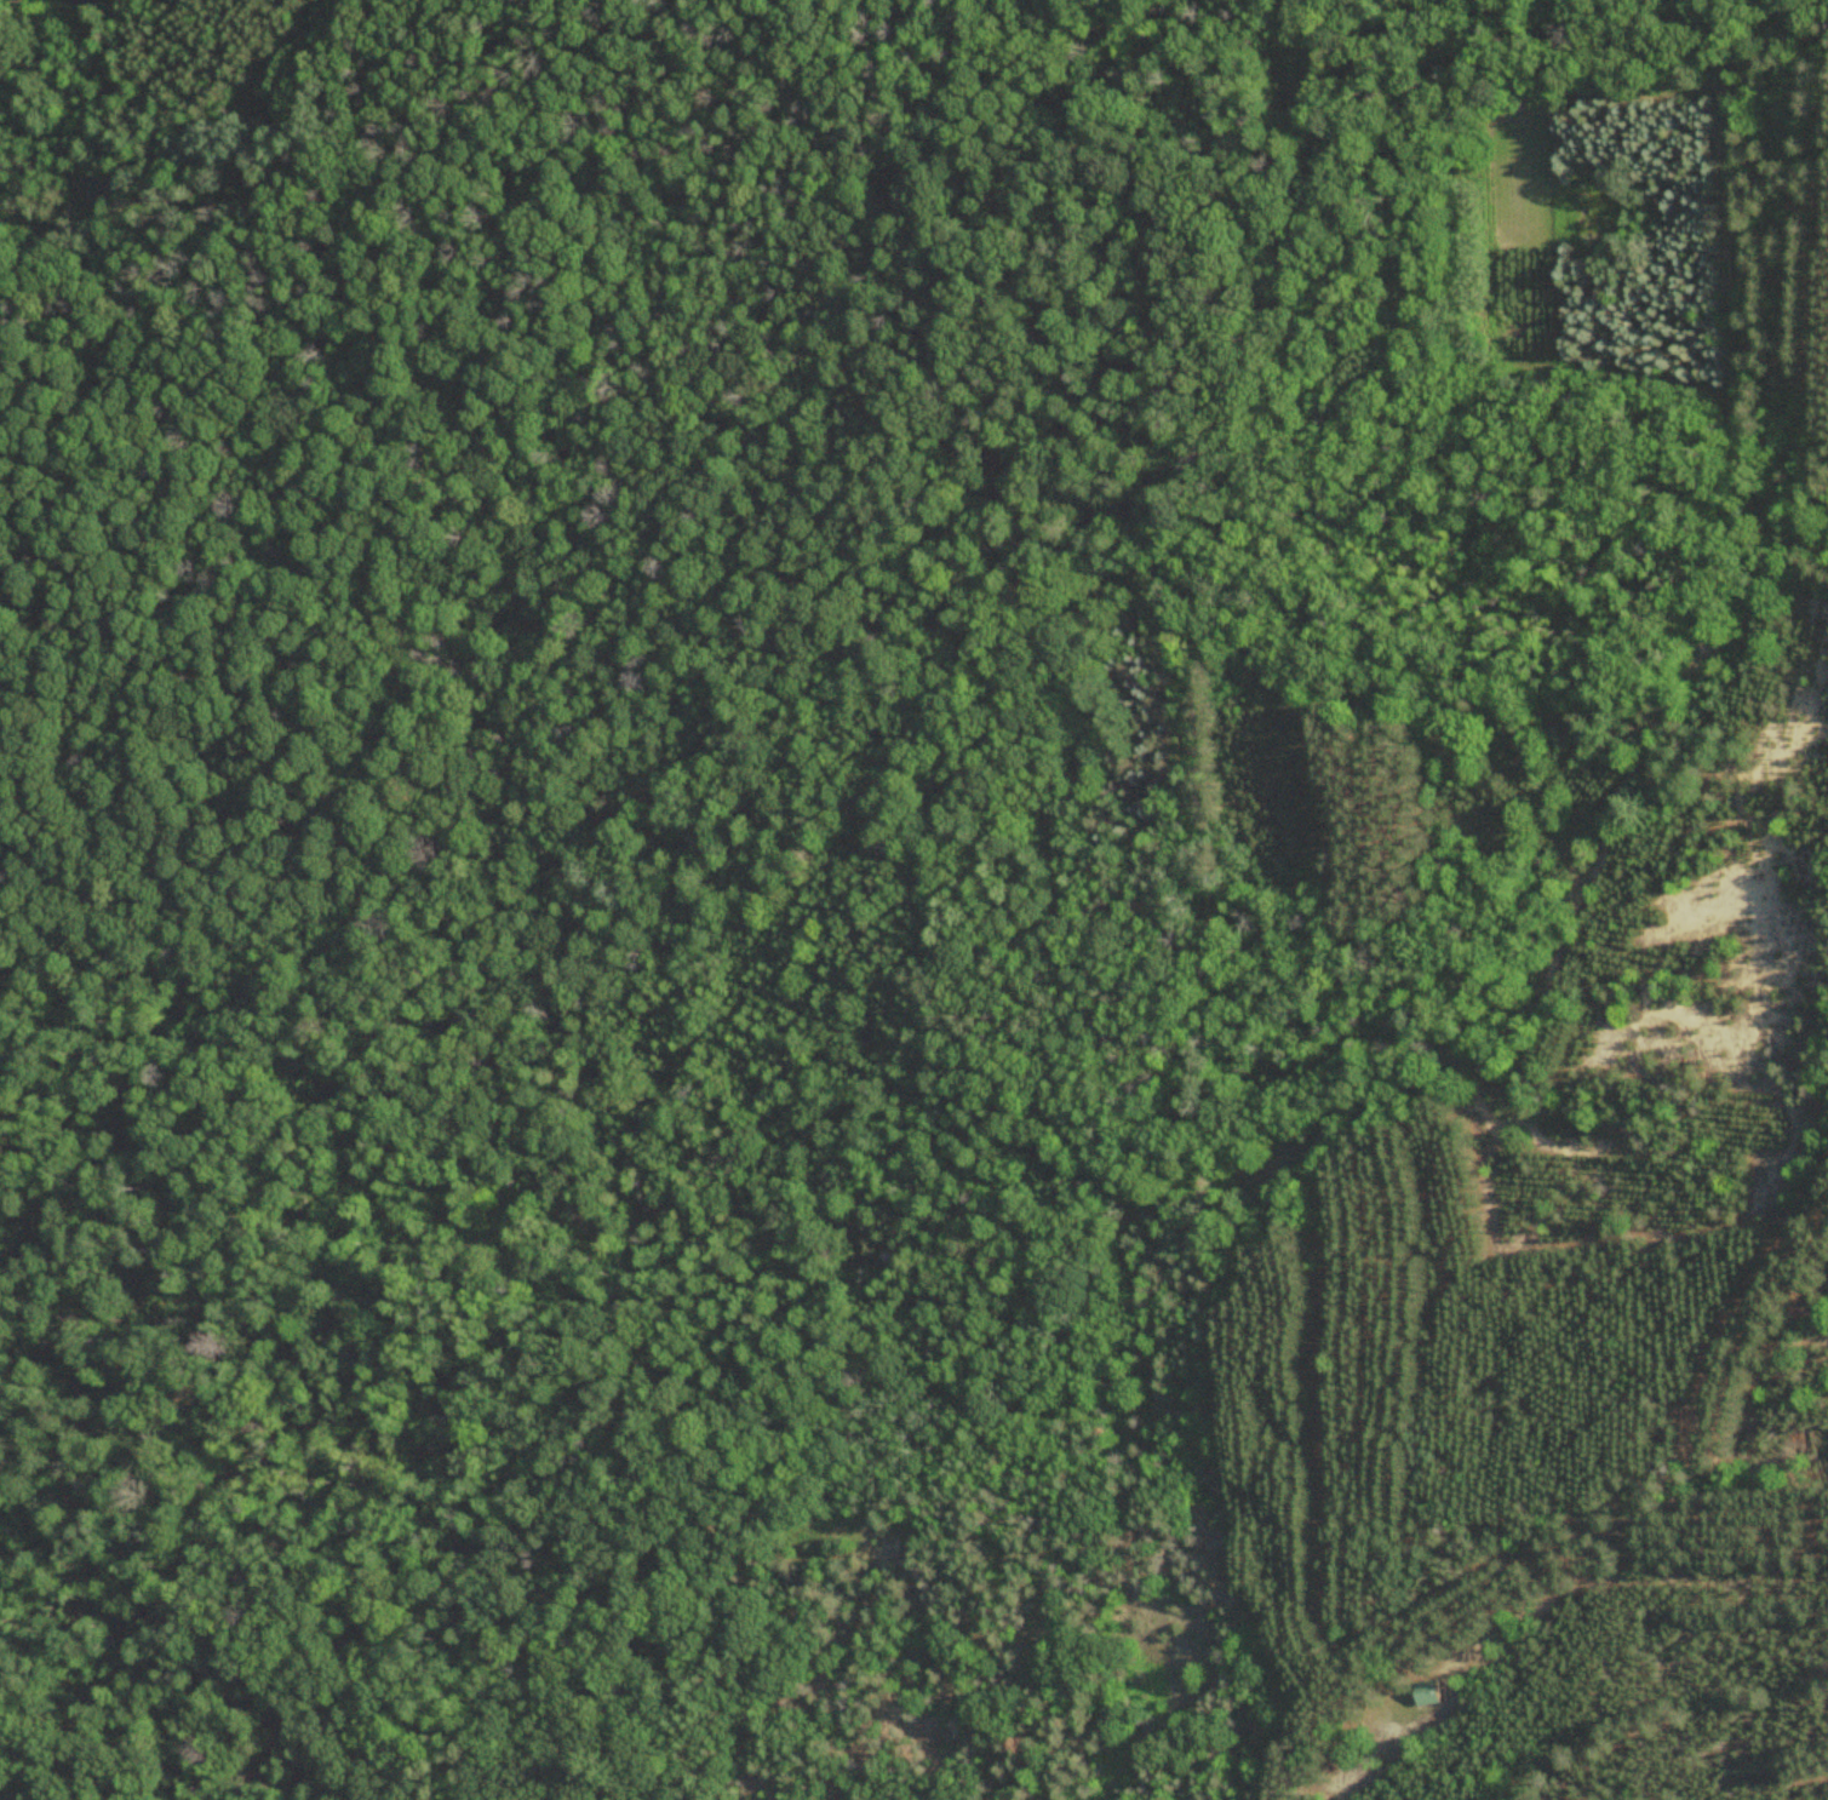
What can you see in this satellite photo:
building: (1432, 1691)

